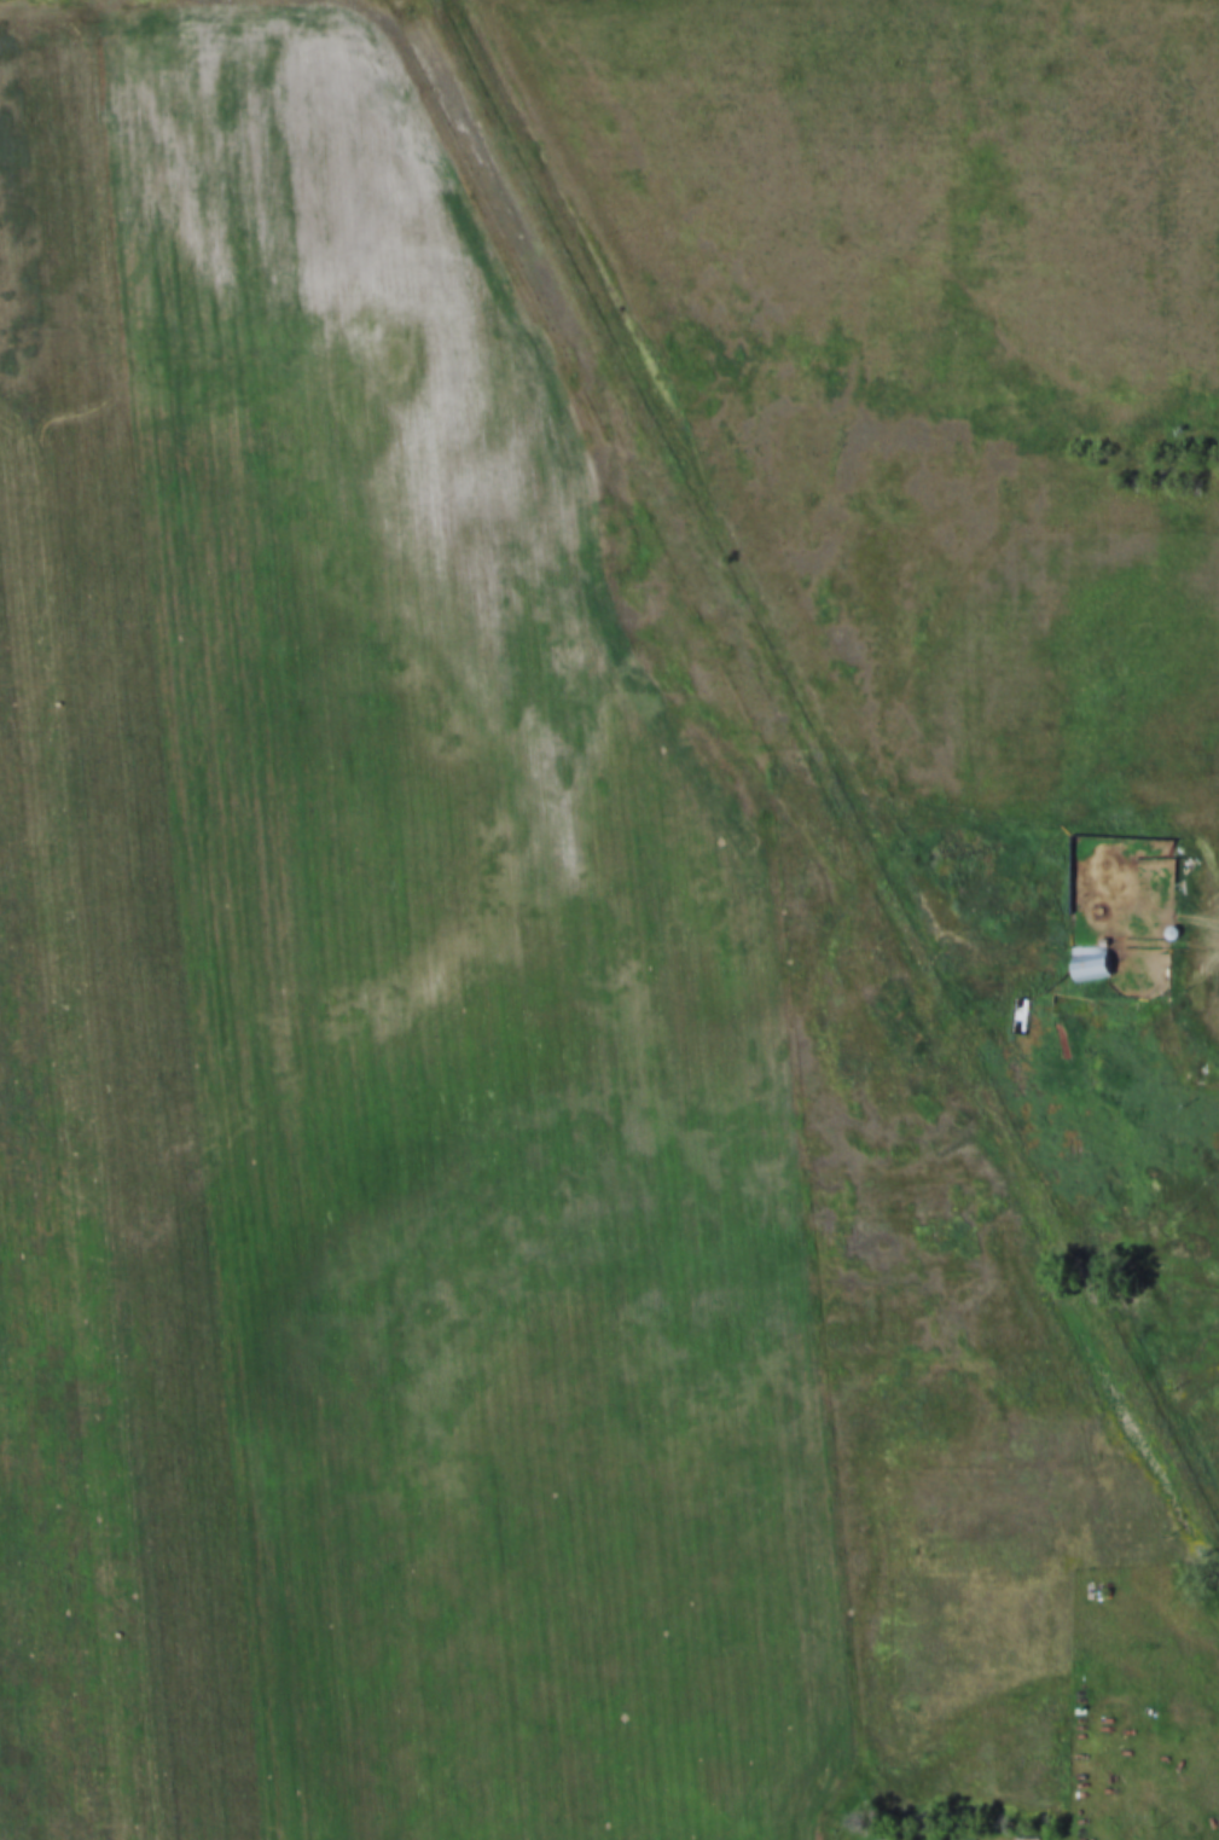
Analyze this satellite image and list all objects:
building: (1173, 927)
silo: (1173, 927)
road: (1186, 940)
building: (1090, 953)
building: (1016, 1008)
building: (1049, 1172)

